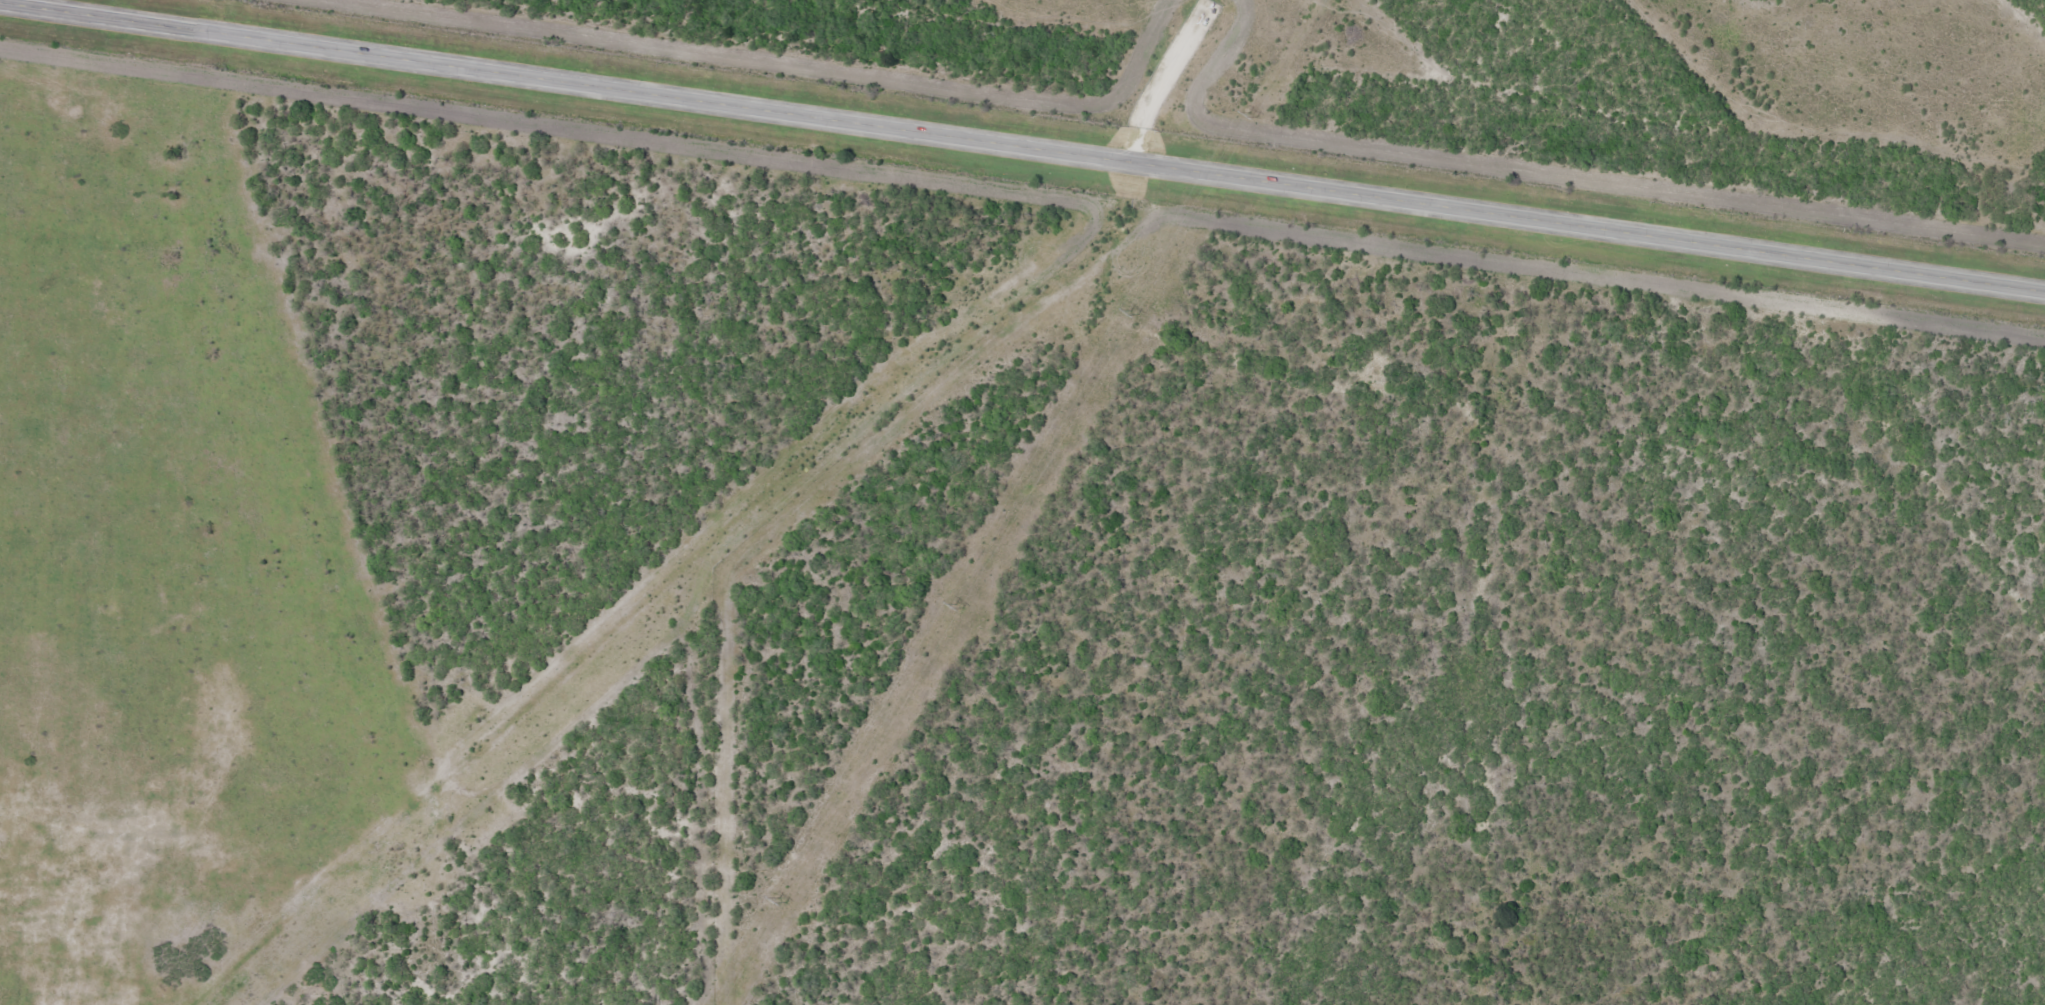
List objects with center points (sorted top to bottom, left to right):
power tower: (1254, 113)
road: (1023, 146)
power tower: (1132, 313)
power tower: (957, 607)
power tower: (784, 901)

